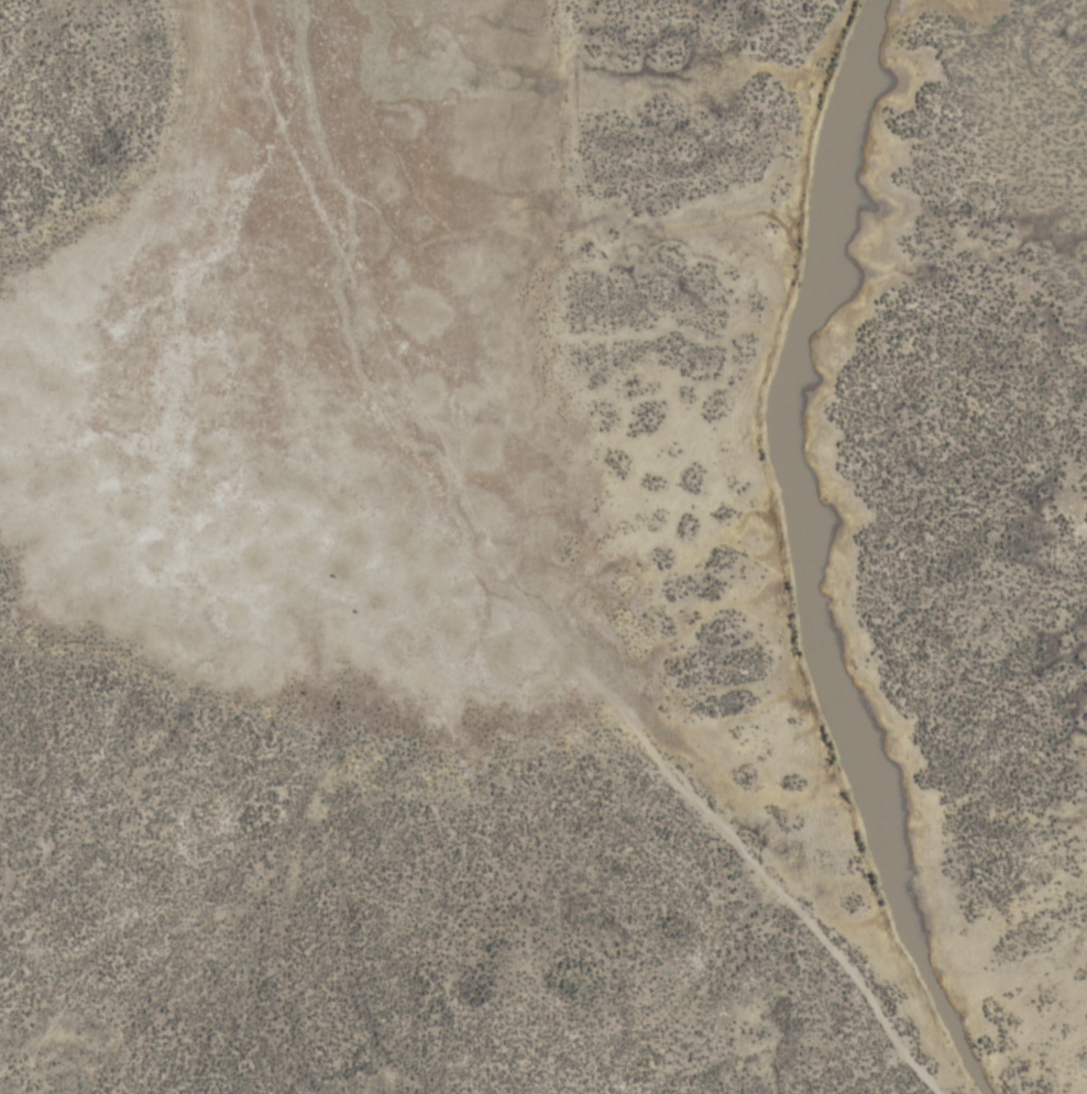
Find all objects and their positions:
road: (797, 904)

